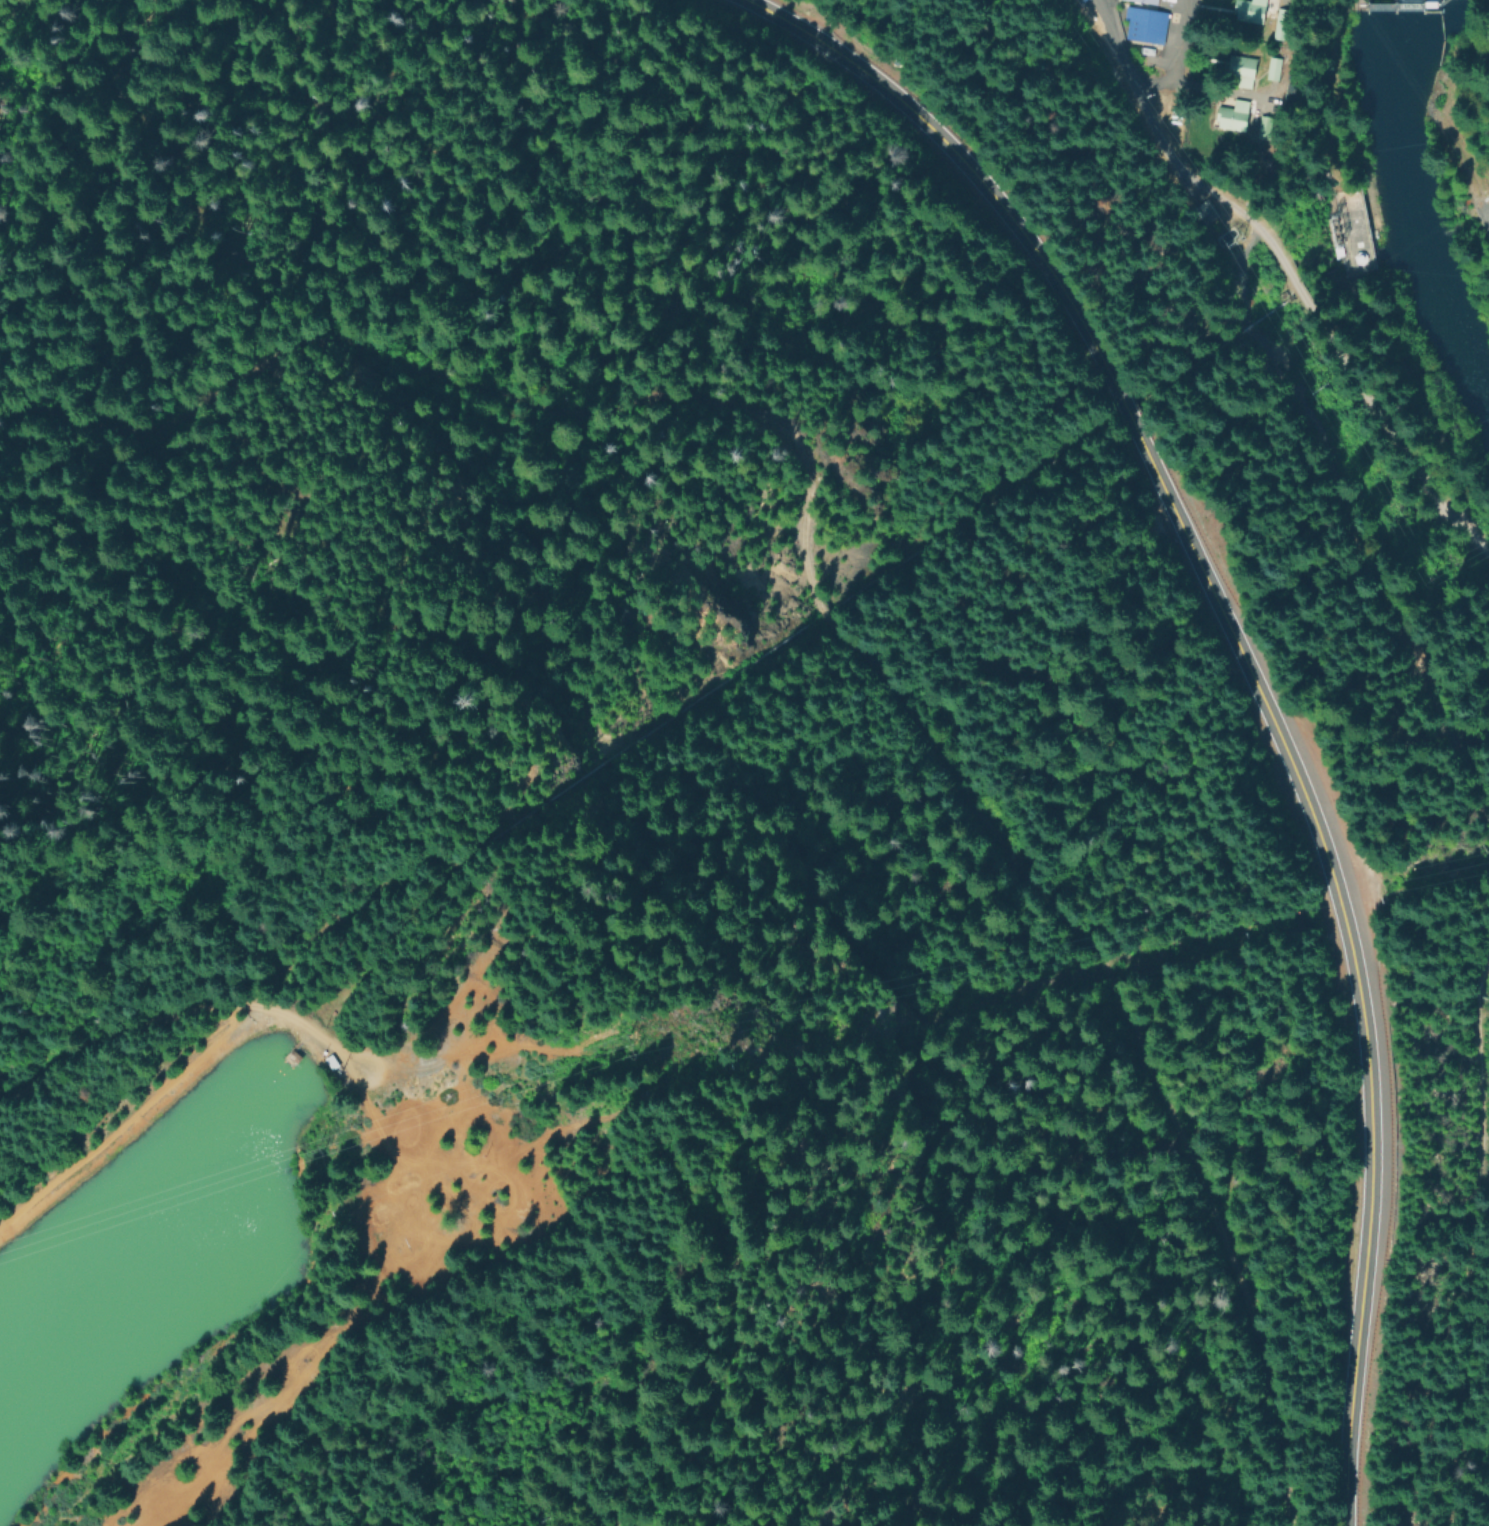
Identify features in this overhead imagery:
building: (1138, 2)
dam: (1397, 6)
building: (1252, 12)
building: (1140, 26)
road: (1181, 62)
building: (1277, 69)
building: (1241, 73)
road: (1139, 93)
building: (1231, 117)
road: (1469, 169)
river: (1410, 217)
road: (1338, 384)
road: (823, 625)
road: (1245, 678)
road: (119, 1032)
road: (133, 1108)

